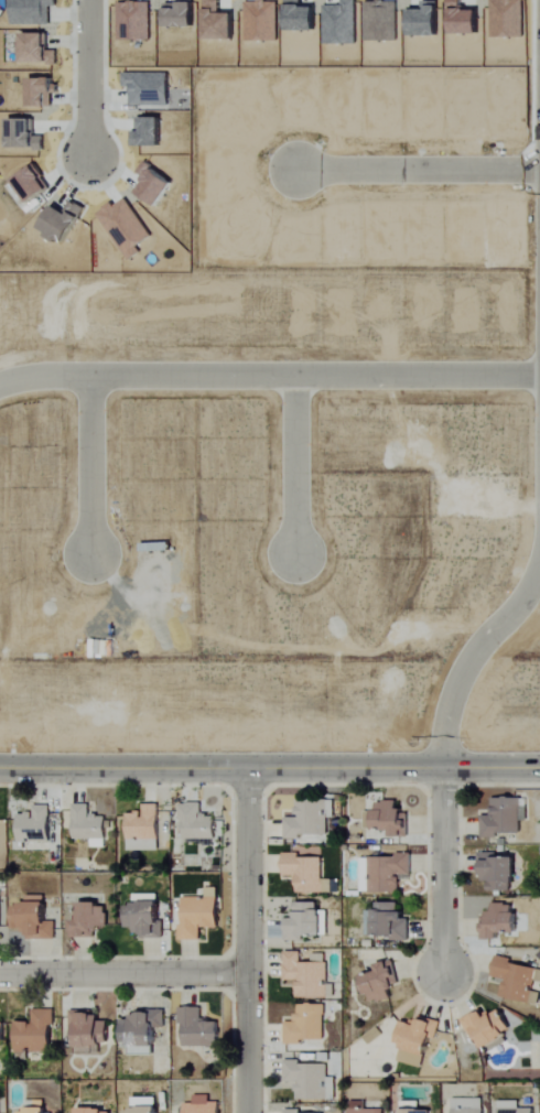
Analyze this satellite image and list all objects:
building: (183, 17)
building: (34, 48)
road: (90, 75)
road: (421, 170)
road: (269, 379)
road: (295, 466)
road: (91, 469)
road: (472, 662)
road: (270, 769)
building: (505, 818)
building: (310, 819)
building: (389, 819)
building: (197, 822)
building: (35, 824)
building: (89, 826)
building: (143, 829)
building: (305, 869)
building: (499, 872)
building: (385, 873)
road: (443, 873)
building: (0, 911)
building: (89, 917)
building: (199, 917)
building: (33, 918)
building: (145, 919)
building: (391, 920)
building: (305, 921)
building: (500, 921)
road: (248, 941)
road: (123, 974)
building: (309, 976)
building: (517, 981)
building: (382, 982)
building: (306, 1025)
building: (488, 1026)
building: (142, 1028)
building: (199, 1029)
building: (89, 1031)
building: (35, 1034)
building: (2, 1035)
building: (417, 1041)
building: (311, 1080)
building: (1, 1104)
building: (145, 1105)
building: (204, 1105)
building: (469, 1105)
building: (37, 1106)
building: (514, 1107)
building: (96, 1111)
building: (293, 1111)
building: (368, 1111)
building: (418, 1111)

